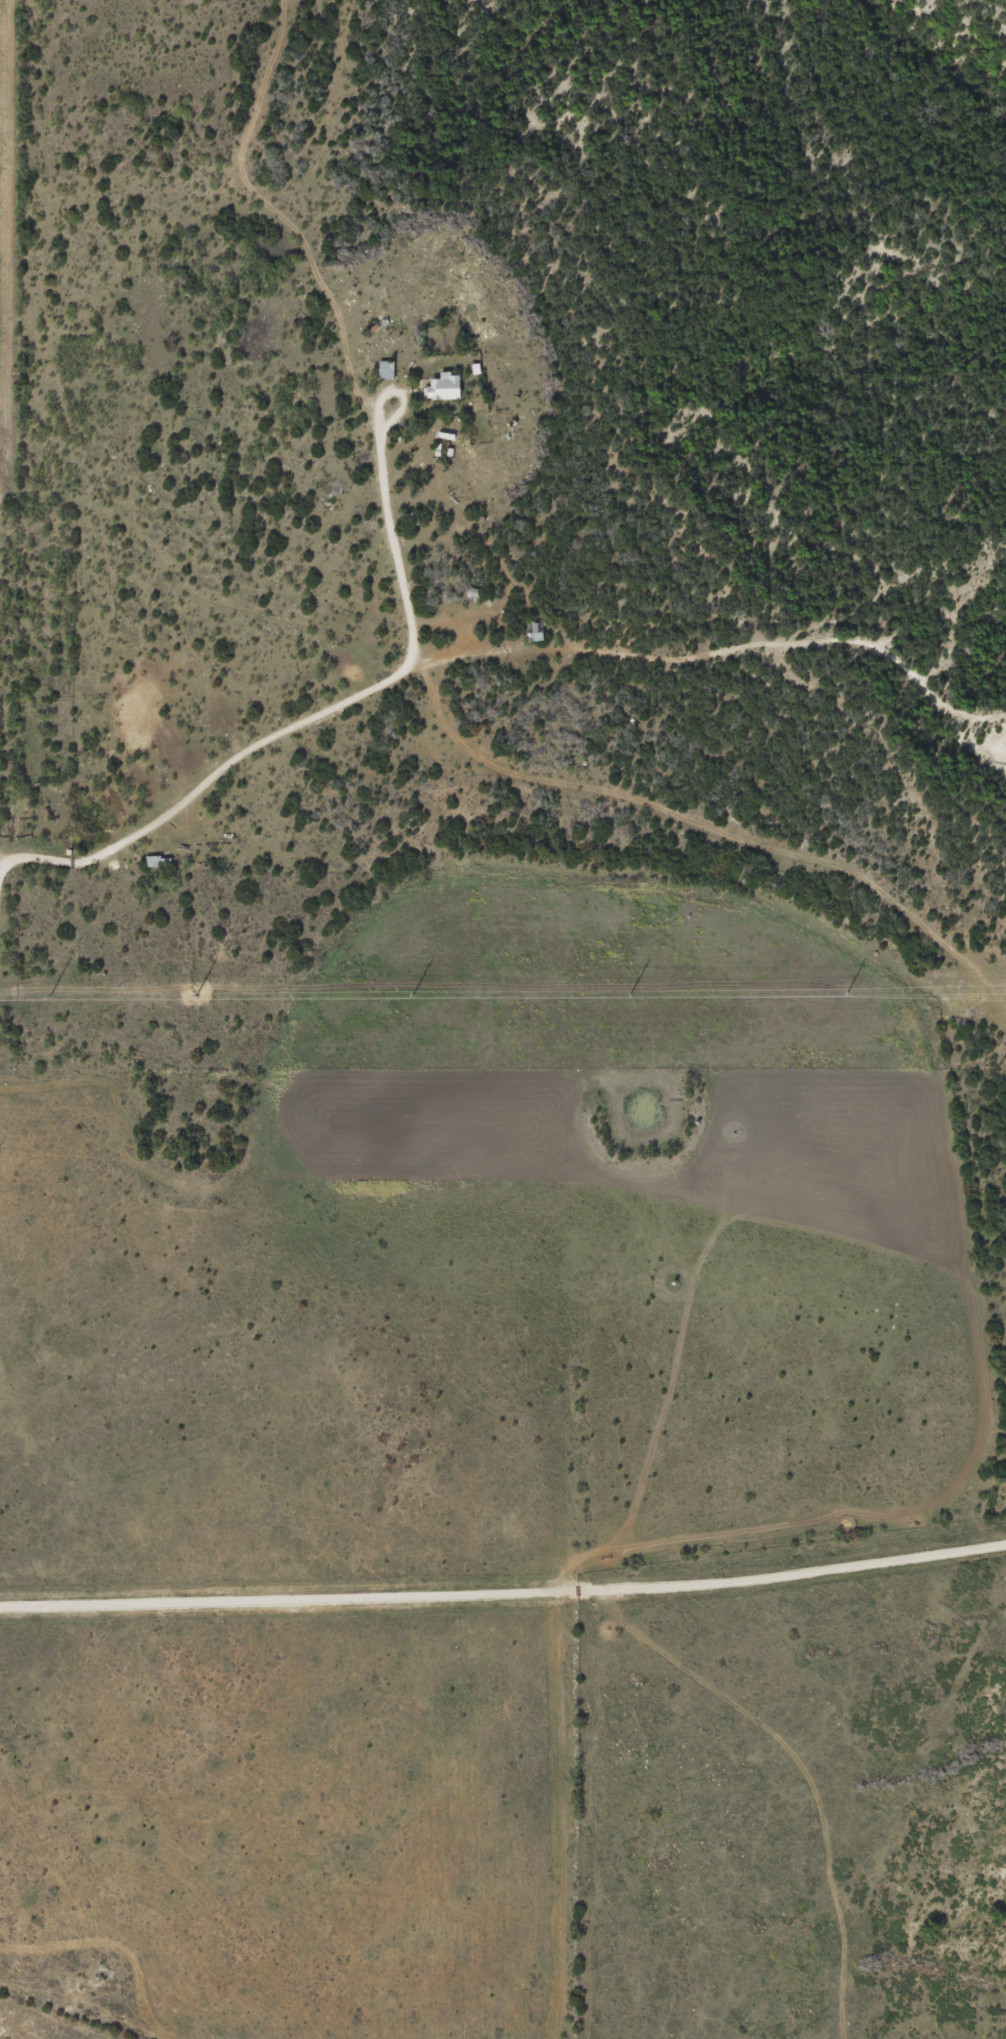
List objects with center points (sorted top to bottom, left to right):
building: (389, 369)
building: (445, 387)
road: (387, 507)
building: (537, 634)
road: (3, 647)
road: (486, 661)
building: (156, 861)
power tower: (631, 992)
power tower: (846, 992)
power tower: (48, 994)
power tower: (413, 994)
power tower: (195, 995)

